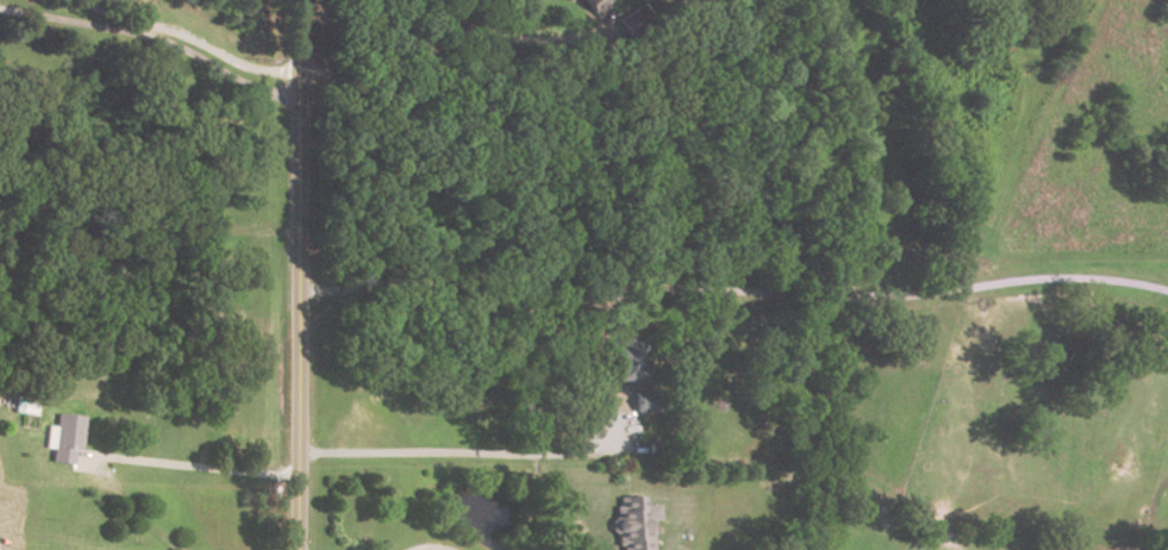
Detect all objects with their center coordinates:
building: (589, 5)
road: (111, 19)
building: (630, 24)
road: (154, 40)
road: (448, 42)
road: (299, 275)
road: (733, 293)
building: (625, 367)
building: (645, 404)
building: (65, 437)
road: (464, 454)
road: (195, 464)
building: (630, 525)
road: (432, 549)

